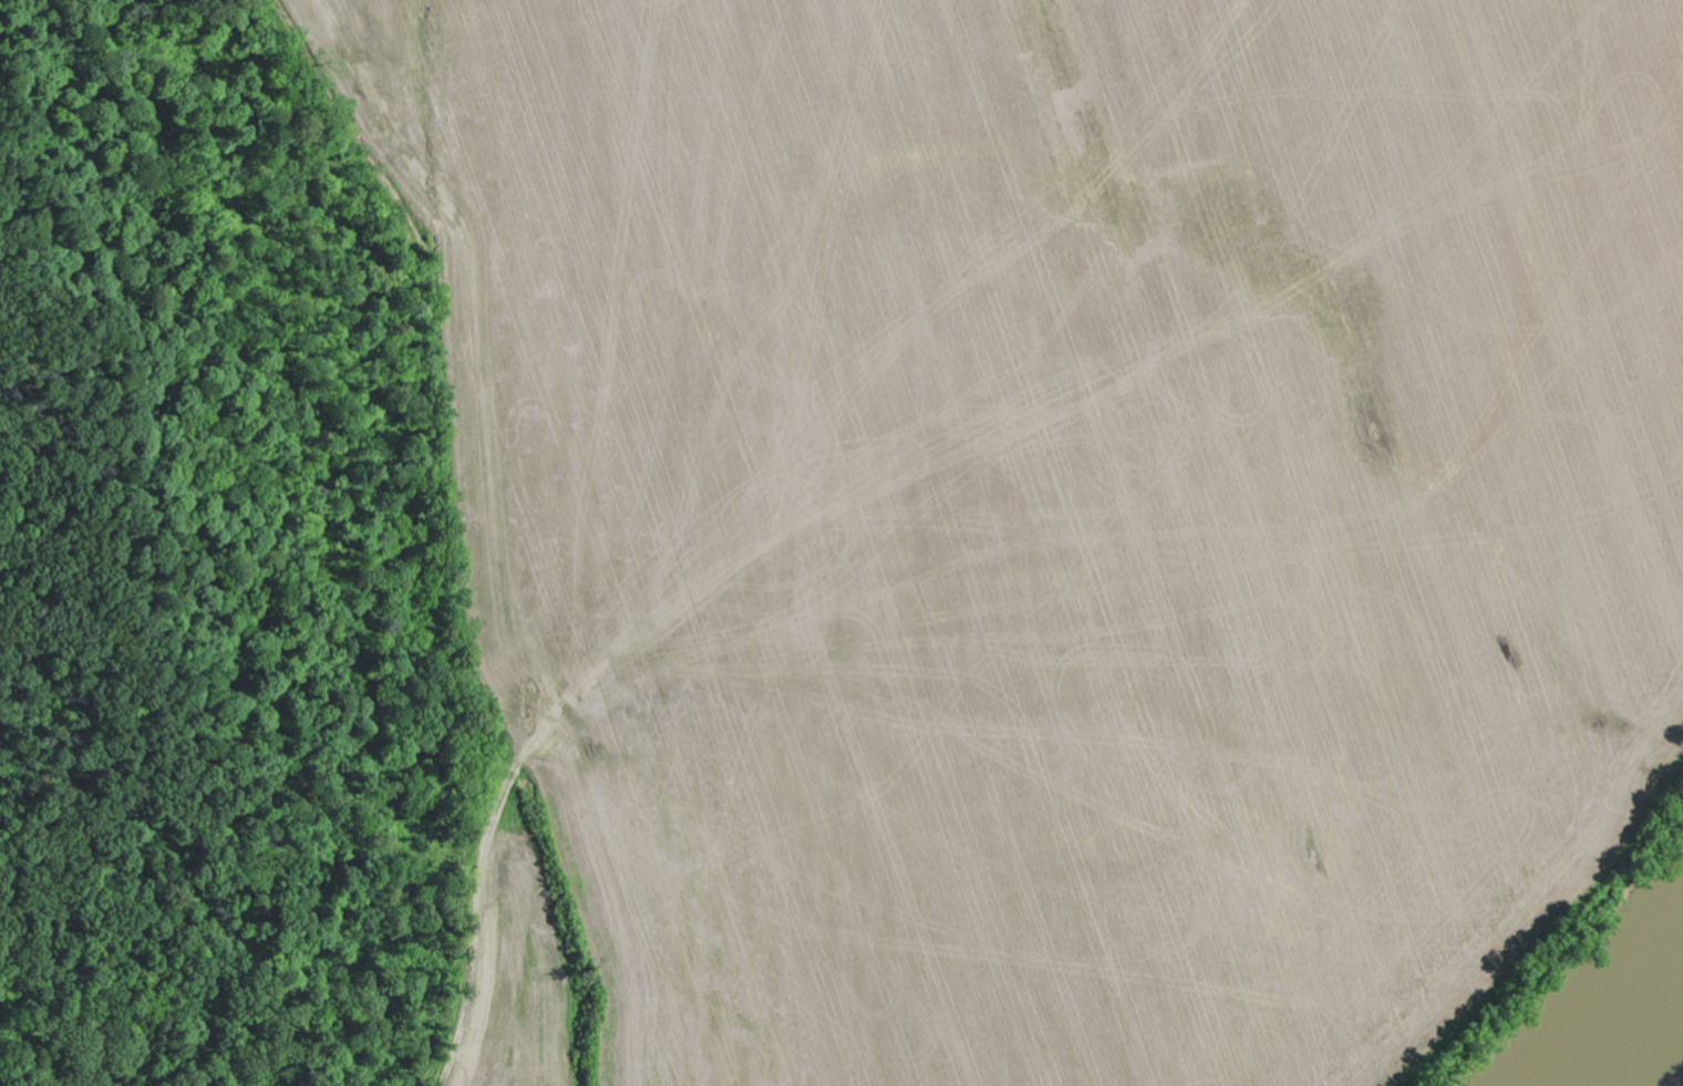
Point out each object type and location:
road: (478, 911)
river: (1629, 1033)

